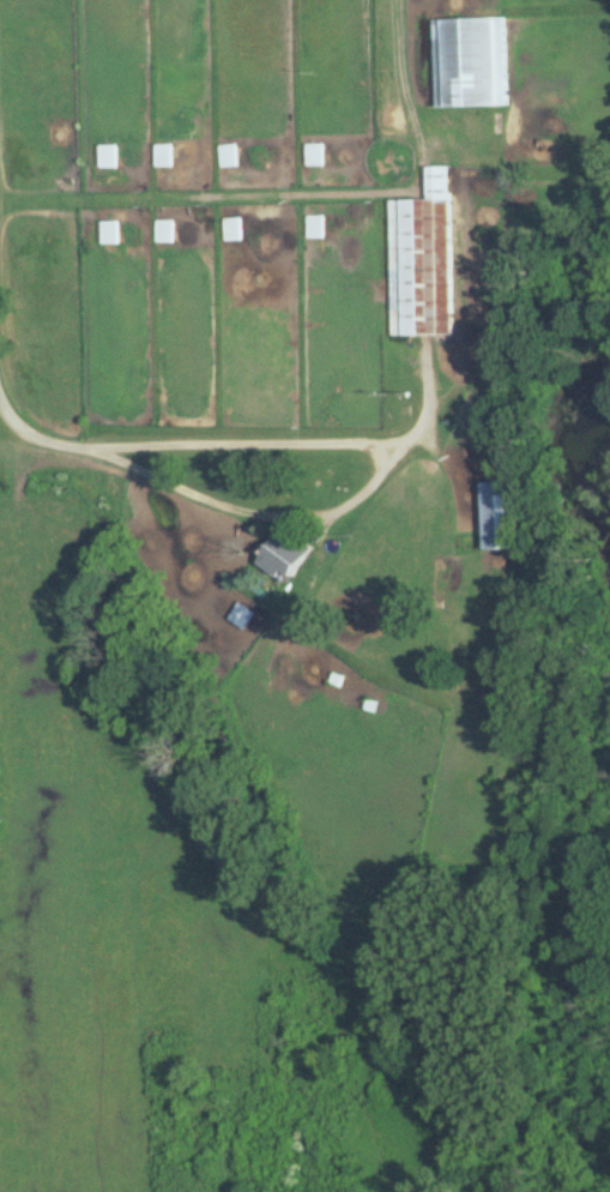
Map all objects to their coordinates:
building: (470, 62)
building: (315, 155)
building: (165, 156)
building: (229, 156)
building: (108, 157)
road: (194, 195)
building: (316, 225)
building: (234, 229)
building: (165, 231)
building: (110, 233)
building: (425, 255)
road: (431, 397)
road: (213, 441)
road: (260, 511)
building: (497, 514)
building: (294, 558)

